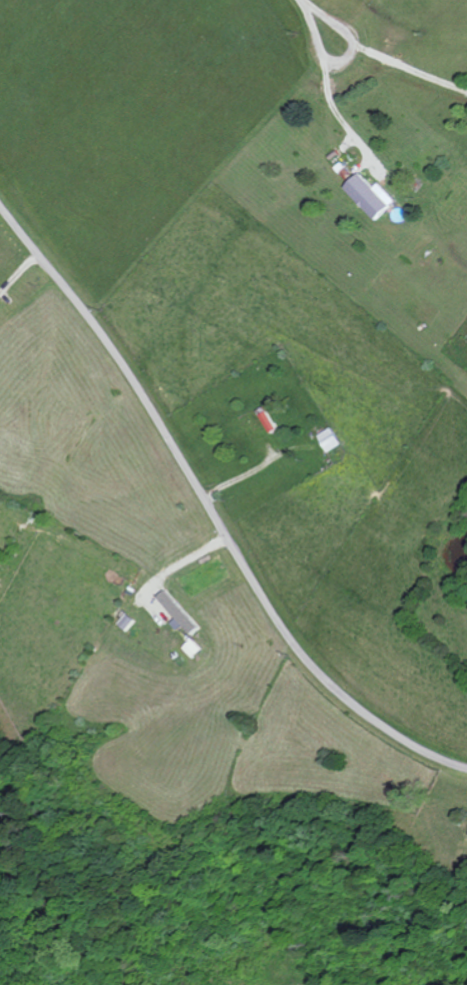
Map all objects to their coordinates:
road: (322, 27)
building: (371, 196)
building: (268, 422)
building: (329, 441)
road: (210, 515)
building: (178, 614)
building: (126, 623)

